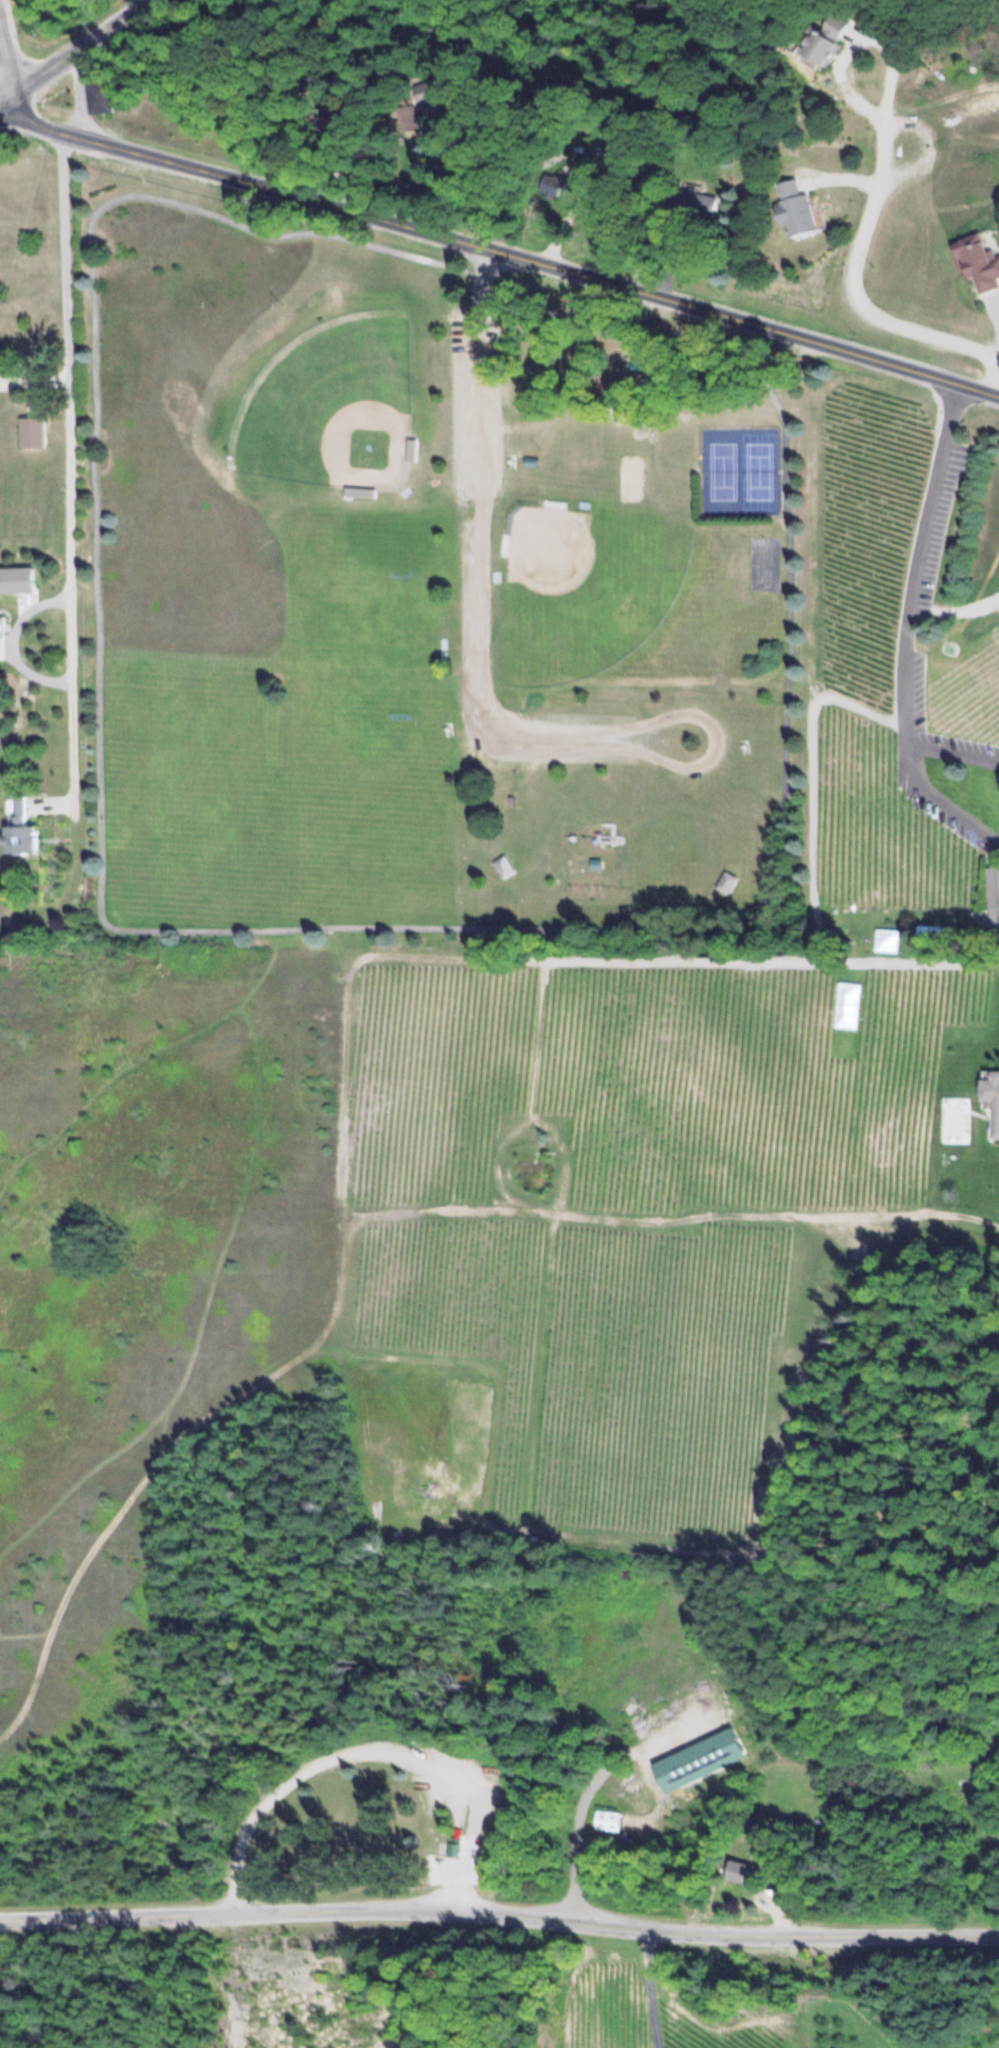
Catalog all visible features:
building: (823, 40)
road: (73, 52)
road: (7, 55)
road: (79, 94)
building: (98, 97)
building: (409, 117)
building: (553, 185)
building: (692, 202)
building: (792, 208)
road: (500, 247)
building: (977, 262)
road: (859, 303)
park: (334, 402)
parking lot: (478, 402)
building: (30, 431)
park: (760, 468)
park: (724, 469)
road: (69, 471)
park: (633, 474)
park: (766, 560)
road: (918, 561)
park: (589, 585)
road: (478, 665)
road: (911, 774)
road: (813, 781)
building: (18, 829)
building: (503, 866)
building: (726, 882)
building: (992, 886)
park: (326, 925)
road: (294, 927)
building: (935, 933)
road: (774, 958)
building: (991, 1097)
building: (696, 1760)
building: (607, 1819)
building: (452, 1848)
building: (740, 1872)
road: (499, 1914)
road: (651, 1988)

